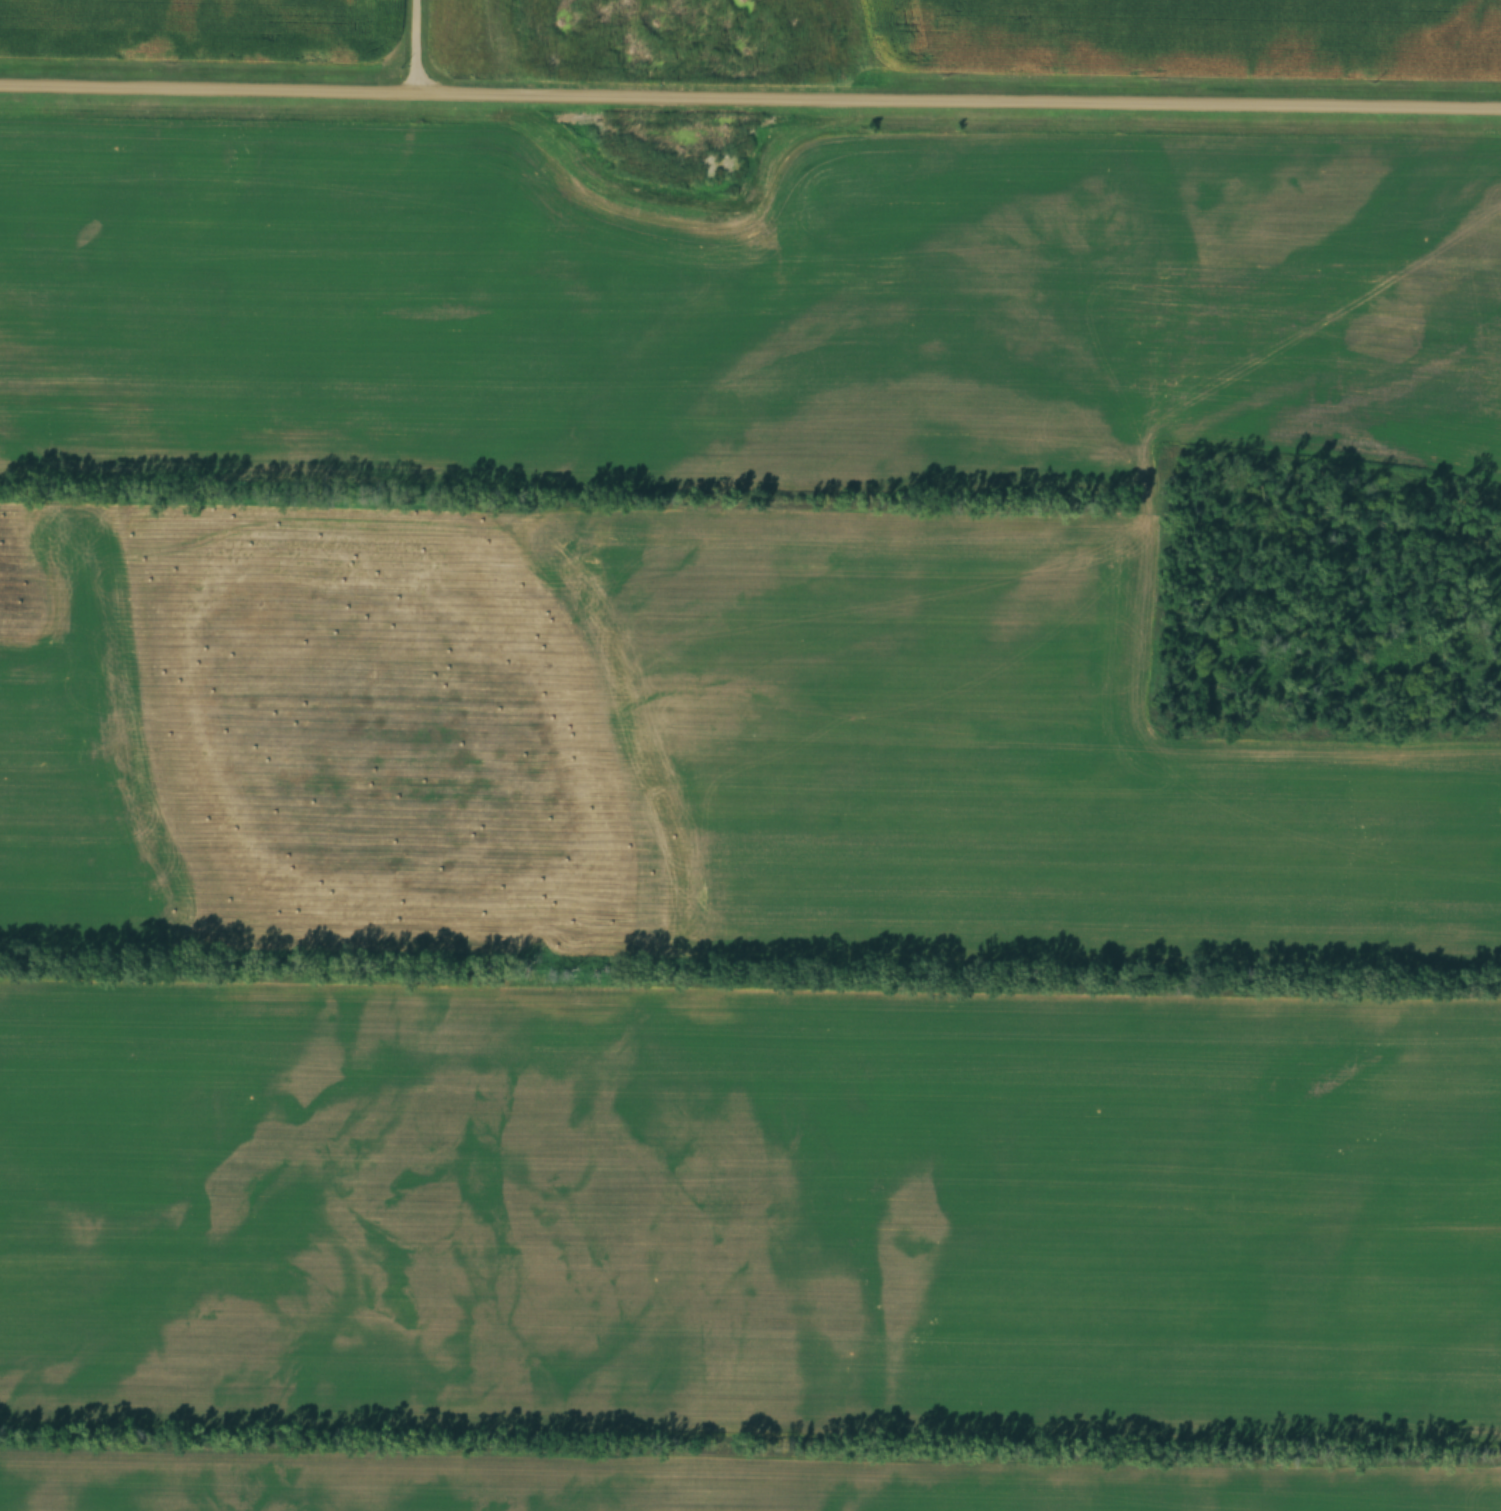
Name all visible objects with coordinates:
road: (403, 48)
road: (750, 103)

